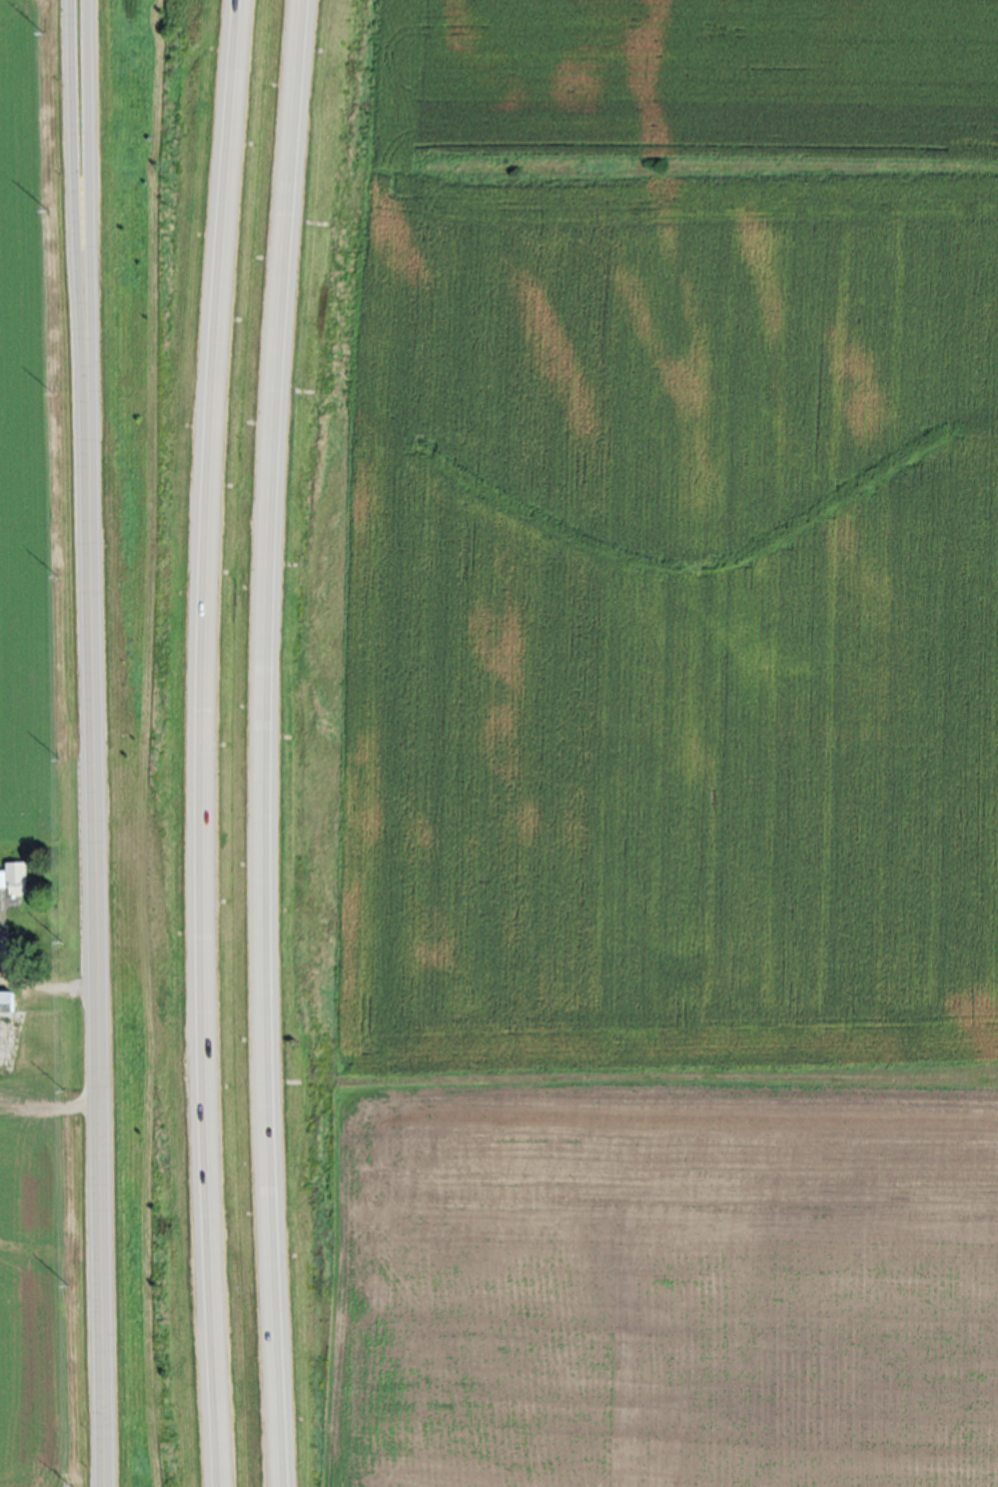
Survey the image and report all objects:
road: (73, 153)
road: (84, 153)
crop: (36, 440)
road: (258, 742)
road: (201, 743)
building: (11, 877)
road: (93, 896)
road: (43, 988)
building: (4, 1000)
crop: (44, 1284)

